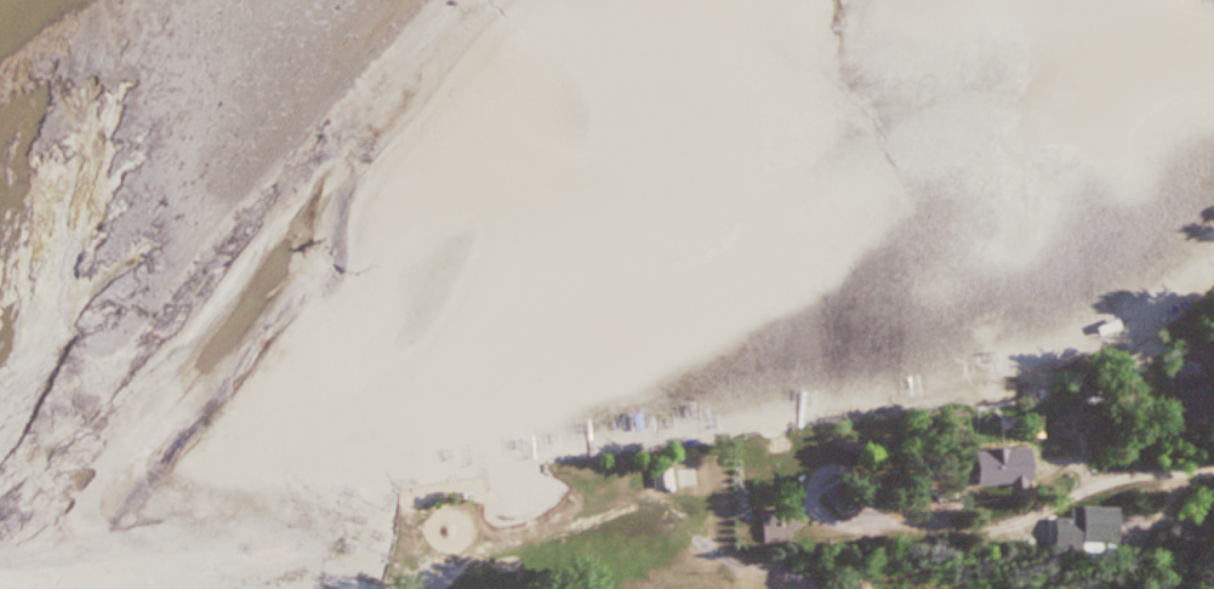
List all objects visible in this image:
building: (1008, 467)
building: (659, 479)
road: (1055, 508)
building: (771, 524)
building: (1062, 534)

